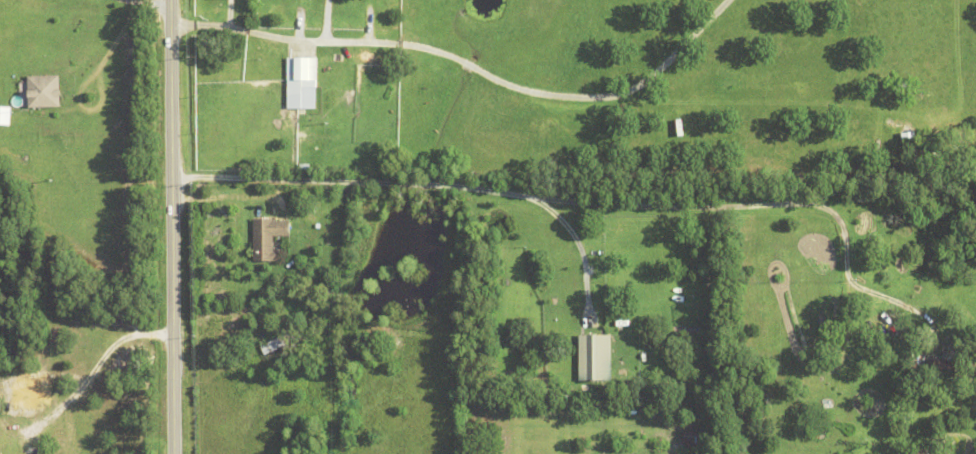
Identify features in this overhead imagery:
road: (143, 4)
building: (325, 62)
road: (466, 62)
road: (83, 79)
building: (301, 83)
building: (43, 91)
building: (328, 98)
building: (5, 115)
building: (304, 167)
road: (576, 202)
road: (172, 227)
building: (268, 238)
building: (884, 252)
road: (543, 260)
building: (342, 284)
building: (885, 317)
building: (907, 325)
building: (279, 344)
building: (595, 359)
building: (684, 363)
building: (940, 365)
building: (311, 366)
building: (916, 368)
road: (85, 375)
building: (69, 434)
building: (696, 434)

